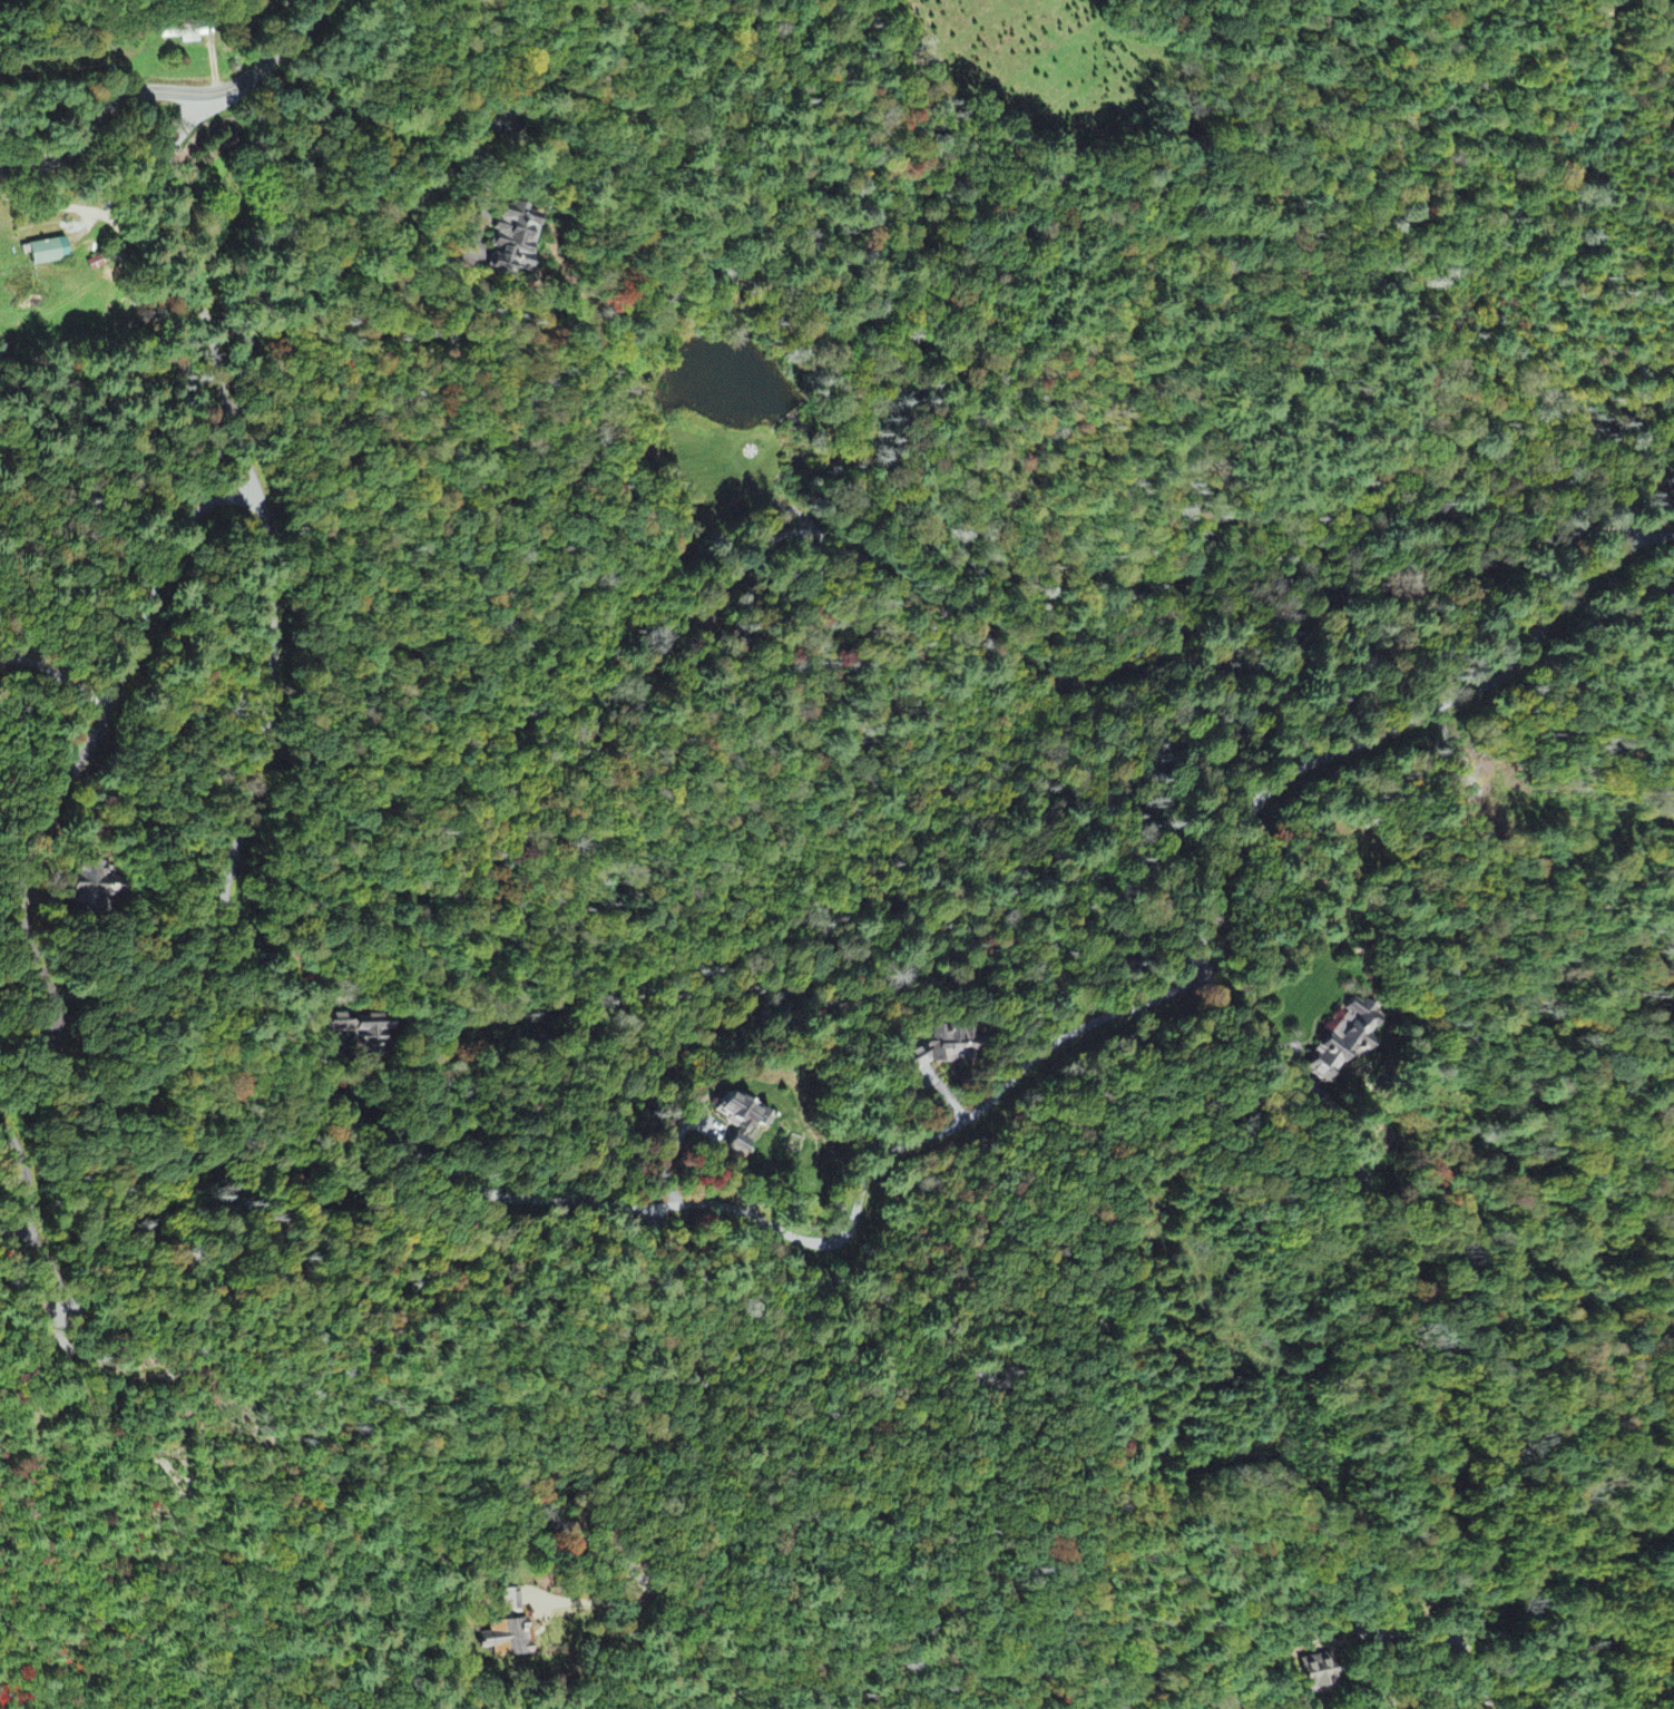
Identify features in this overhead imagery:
road: (176, 96)
building: (511, 242)
building: (53, 253)
road: (63, 779)
building: (97, 883)
building: (1342, 1041)
building: (947, 1054)
building: (744, 1123)
road: (647, 1212)
road: (58, 1310)
building: (509, 1632)
building: (1314, 1674)
road: (1472, 1679)

